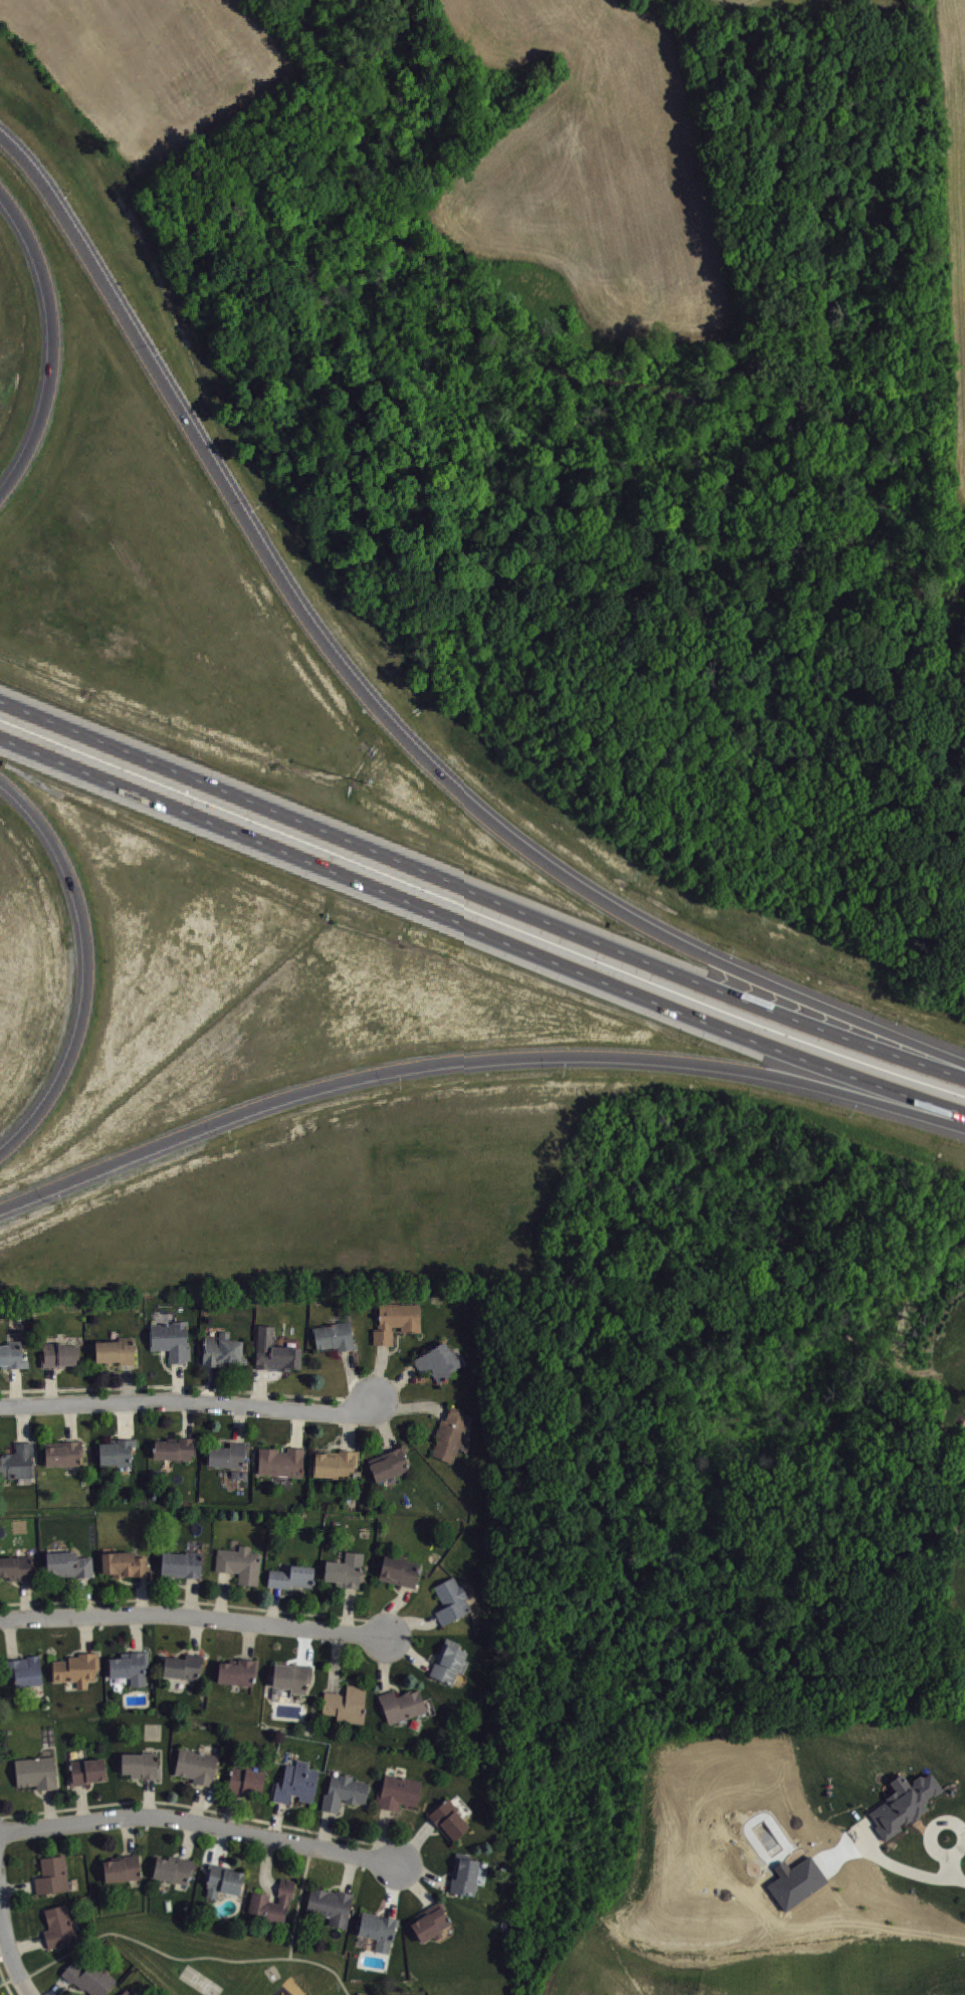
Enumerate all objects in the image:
road: (48, 341)
road: (379, 709)
road: (480, 895)
road: (480, 925)
road: (85, 967)
road: (474, 1059)
building: (395, 1322)
building: (334, 1337)
building: (171, 1341)
building: (116, 1352)
building: (222, 1352)
building: (274, 1353)
building: (12, 1356)
building: (60, 1356)
building: (438, 1363)
road: (377, 1375)
road: (353, 1381)
road: (178, 1382)
road: (128, 1384)
road: (210, 1385)
road: (394, 1386)
road: (15, 1387)
road: (50, 1387)
road: (186, 1387)
road: (260, 1388)
road: (187, 1402)
road: (410, 1406)
road: (189, 1420)
road: (125, 1421)
road: (72, 1423)
road: (23, 1425)
road: (240, 1425)
road: (384, 1427)
road: (297, 1430)
road: (349, 1433)
building: (451, 1435)
building: (174, 1449)
building: (116, 1453)
building: (63, 1454)
building: (228, 1456)
building: (18, 1462)
building: (281, 1462)
building: (336, 1465)
building: (389, 1465)
building: (181, 1562)
building: (68, 1563)
building: (124, 1563)
building: (239, 1563)
building: (16, 1566)
building: (398, 1570)
building: (343, 1573)
building: (291, 1576)
road: (141, 1593)
road: (84, 1594)
road: (222, 1594)
road: (191, 1595)
road: (25, 1597)
building: (450, 1599)
road: (196, 1600)
road: (273, 1605)
road: (390, 1607)
road: (348, 1609)
road: (193, 1615)
road: (409, 1619)
road: (136, 1631)
road: (87, 1632)
road: (196, 1635)
road: (10, 1637)
road: (248, 1639)
road: (303, 1645)
road: (409, 1650)
building: (448, 1660)
road: (334, 1661)
road: (383, 1663)
building: (183, 1665)
building: (130, 1666)
building: (76, 1667)
building: (22, 1669)
building: (238, 1670)
building: (291, 1675)
building: (346, 1703)
building: (401, 1704)
building: (140, 1764)
building: (195, 1765)
building: (87, 1770)
building: (35, 1771)
building: (245, 1780)
building: (296, 1782)
building: (343, 1791)
building: (397, 1791)
road: (149, 1795)
road: (81, 1801)
road: (198, 1801)
building: (903, 1802)
road: (191, 1805)
road: (48, 1806)
road: (230, 1809)
road: (277, 1818)
building: (447, 1818)
road: (198, 1820)
road: (326, 1829)
road: (128, 1834)
road: (381, 1836)
road: (189, 1838)
road: (415, 1842)
road: (222, 1844)
road: (266, 1865)
road: (915, 1865)
building: (121, 1867)
building: (173, 1868)
road: (349, 1872)
road: (422, 1872)
building: (463, 1873)
building: (52, 1874)
building: (223, 1878)
road: (413, 1882)
road: (18, 1887)
road: (393, 1888)
road: (299, 1900)
building: (272, 1901)
building: (330, 1904)
building: (430, 1921)
road: (1, 1924)
building: (57, 1925)
building: (378, 1928)
road: (2, 1944)
road: (26, 1944)
road: (149, 1944)
road: (9, 1953)
park: (221, 1959)
road: (326, 1966)
building: (89, 1977)
road: (8, 1978)
park: (200, 1980)
road: (5, 1982)
road: (57, 1985)
building: (126, 1992)

